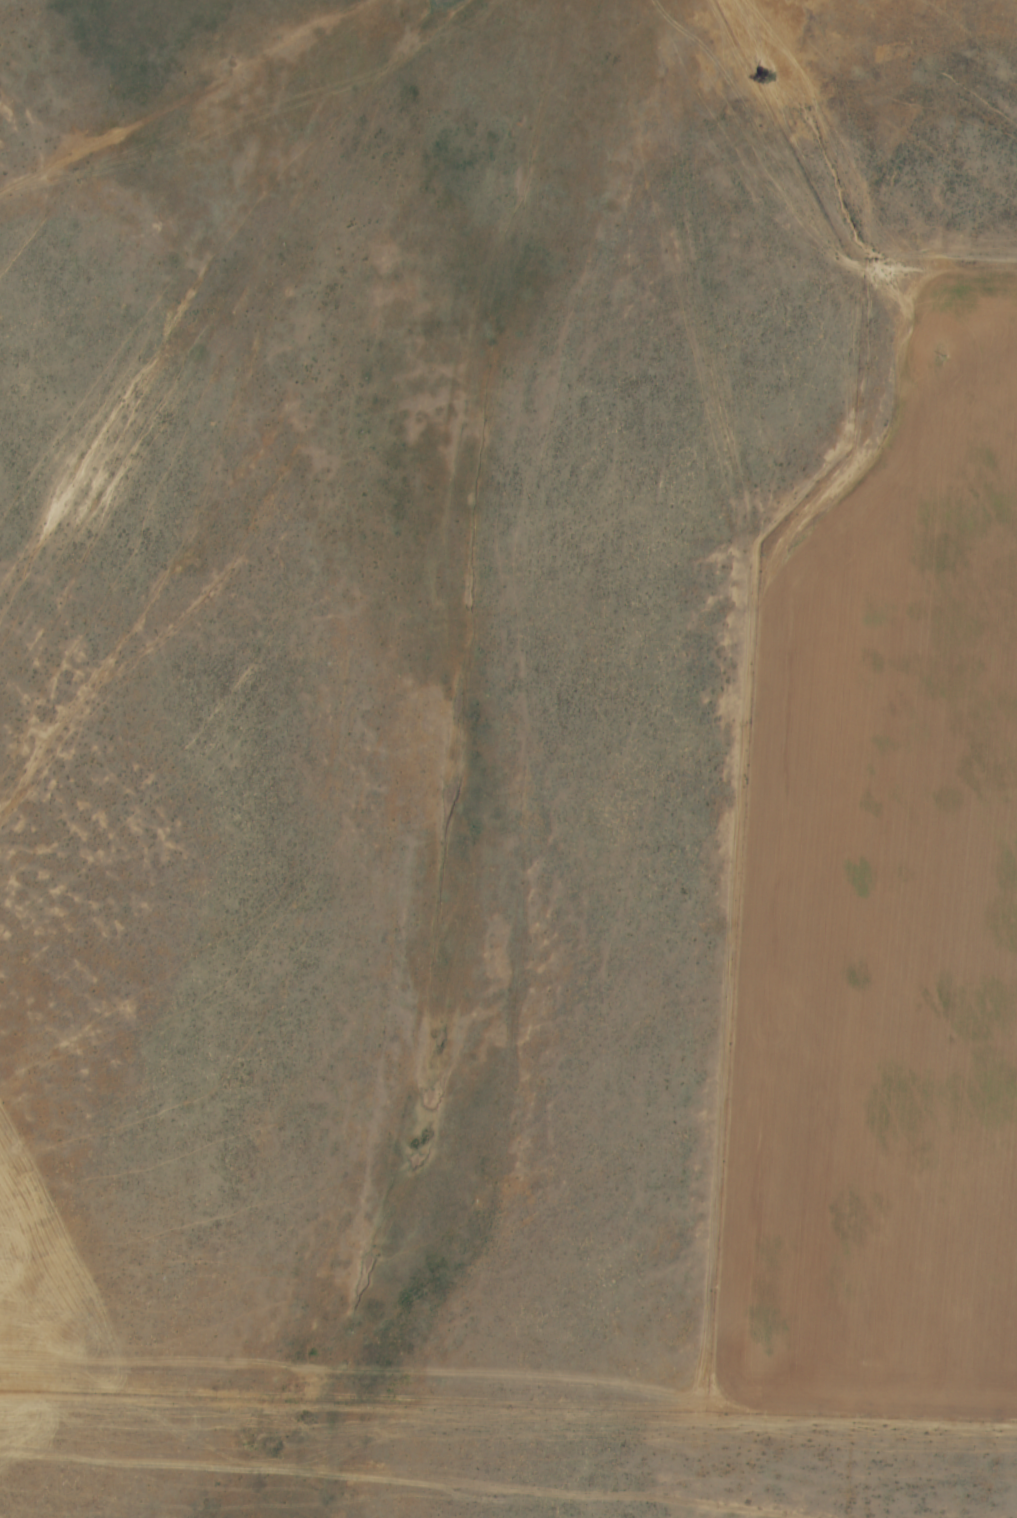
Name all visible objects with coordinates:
road: (679, 34)

